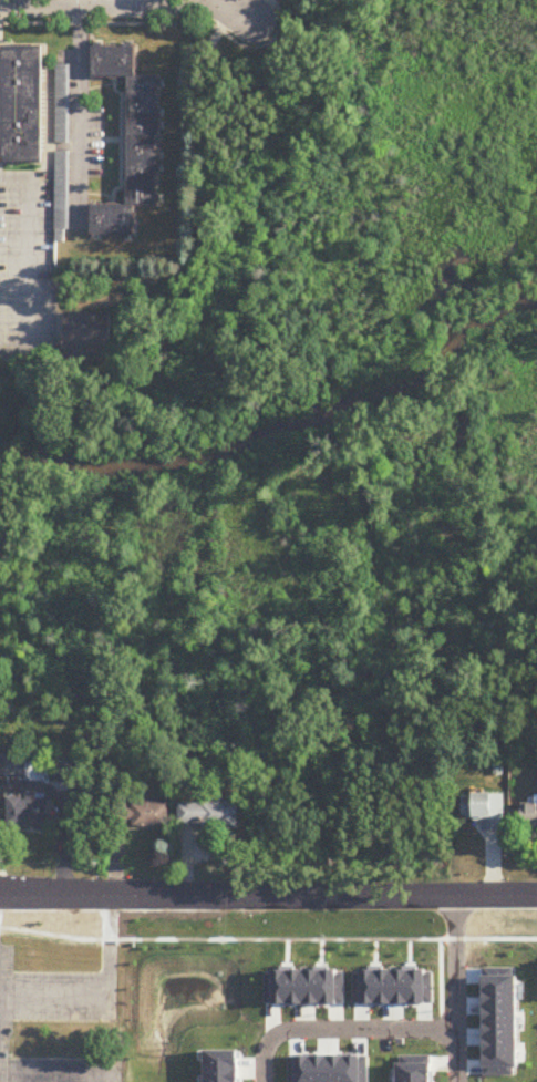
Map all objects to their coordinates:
road: (101, 3)
road: (152, 3)
road: (127, 7)
road: (260, 10)
road: (161, 22)
building: (23, 99)
building: (62, 104)
road: (78, 116)
building: (132, 142)
road: (28, 265)
building: (87, 339)
building: (12, 765)
building: (69, 770)
road: (68, 806)
building: (487, 810)
building: (28, 814)
building: (148, 814)
building: (209, 815)
building: (530, 815)
road: (268, 895)
road: (455, 988)
road: (103, 996)
building: (158, 997)
road: (340, 1028)

